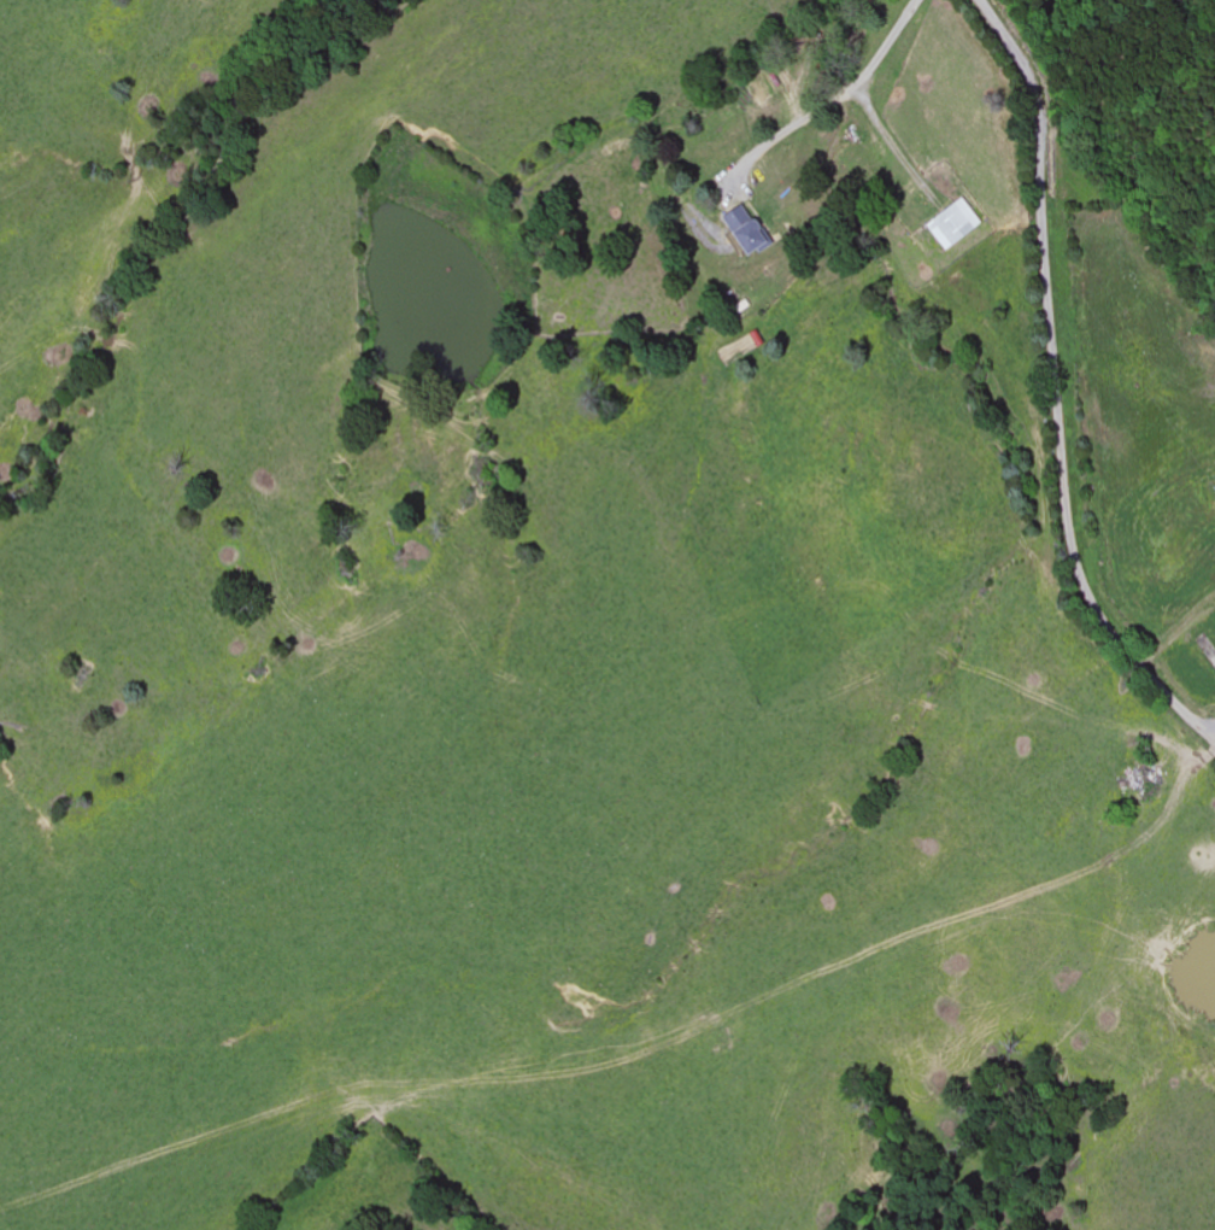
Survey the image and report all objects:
building: (952, 225)
building: (741, 233)
road: (1058, 388)
road: (903, 803)

